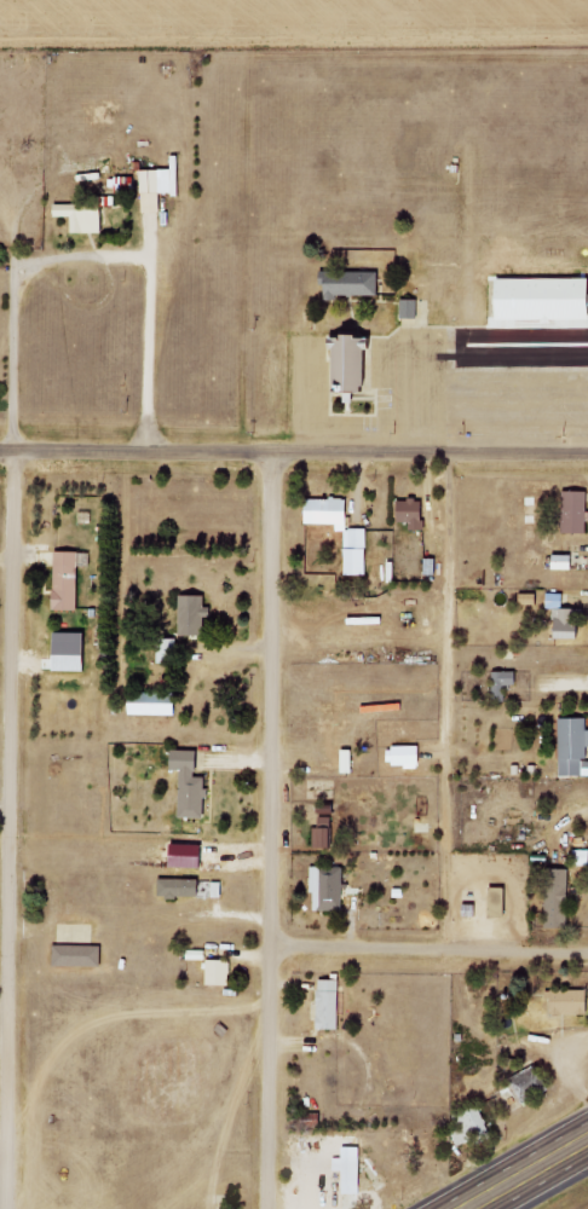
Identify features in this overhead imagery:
building: (152, 187)
building: (83, 221)
building: (347, 284)
building: (536, 299)
building: (407, 308)
building: (345, 361)
road: (294, 450)
building: (324, 511)
building: (571, 511)
building: (408, 513)
building: (353, 551)
building: (559, 562)
building: (63, 580)
building: (524, 598)
building: (190, 615)
building: (564, 623)
building: (67, 652)
building: (501, 684)
building: (145, 705)
building: (571, 747)
building: (403, 756)
building: (186, 783)
road: (269, 828)
road: (10, 829)
building: (319, 838)
building: (181, 856)
building: (189, 887)
building: (554, 899)
building: (496, 902)
road: (427, 949)
building: (81, 955)
building: (223, 972)
building: (566, 1002)
building: (333, 1003)
building: (530, 1083)
building: (473, 1127)
building: (353, 1169)
road: (526, 1173)

